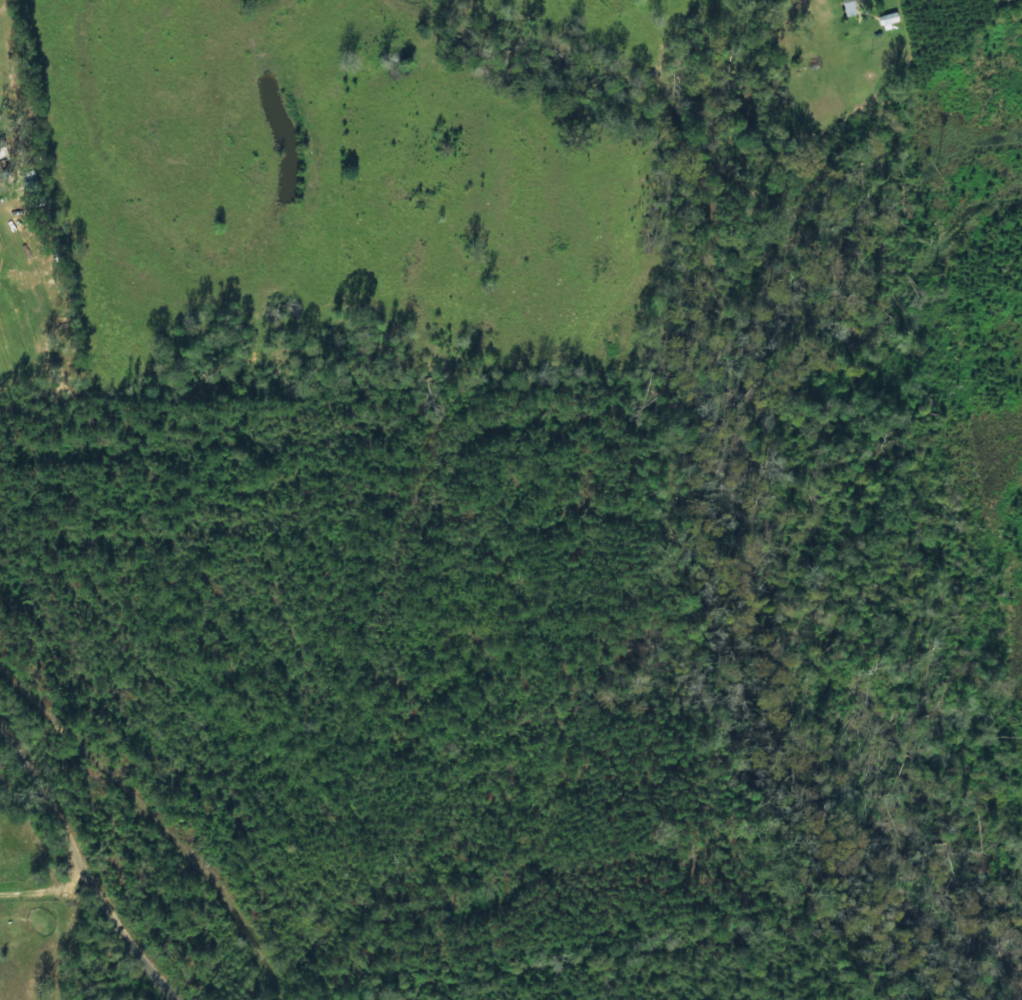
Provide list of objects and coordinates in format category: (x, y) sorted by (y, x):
building: (849, 8)
building: (889, 19)
building: (4, 149)
road: (82, 881)

